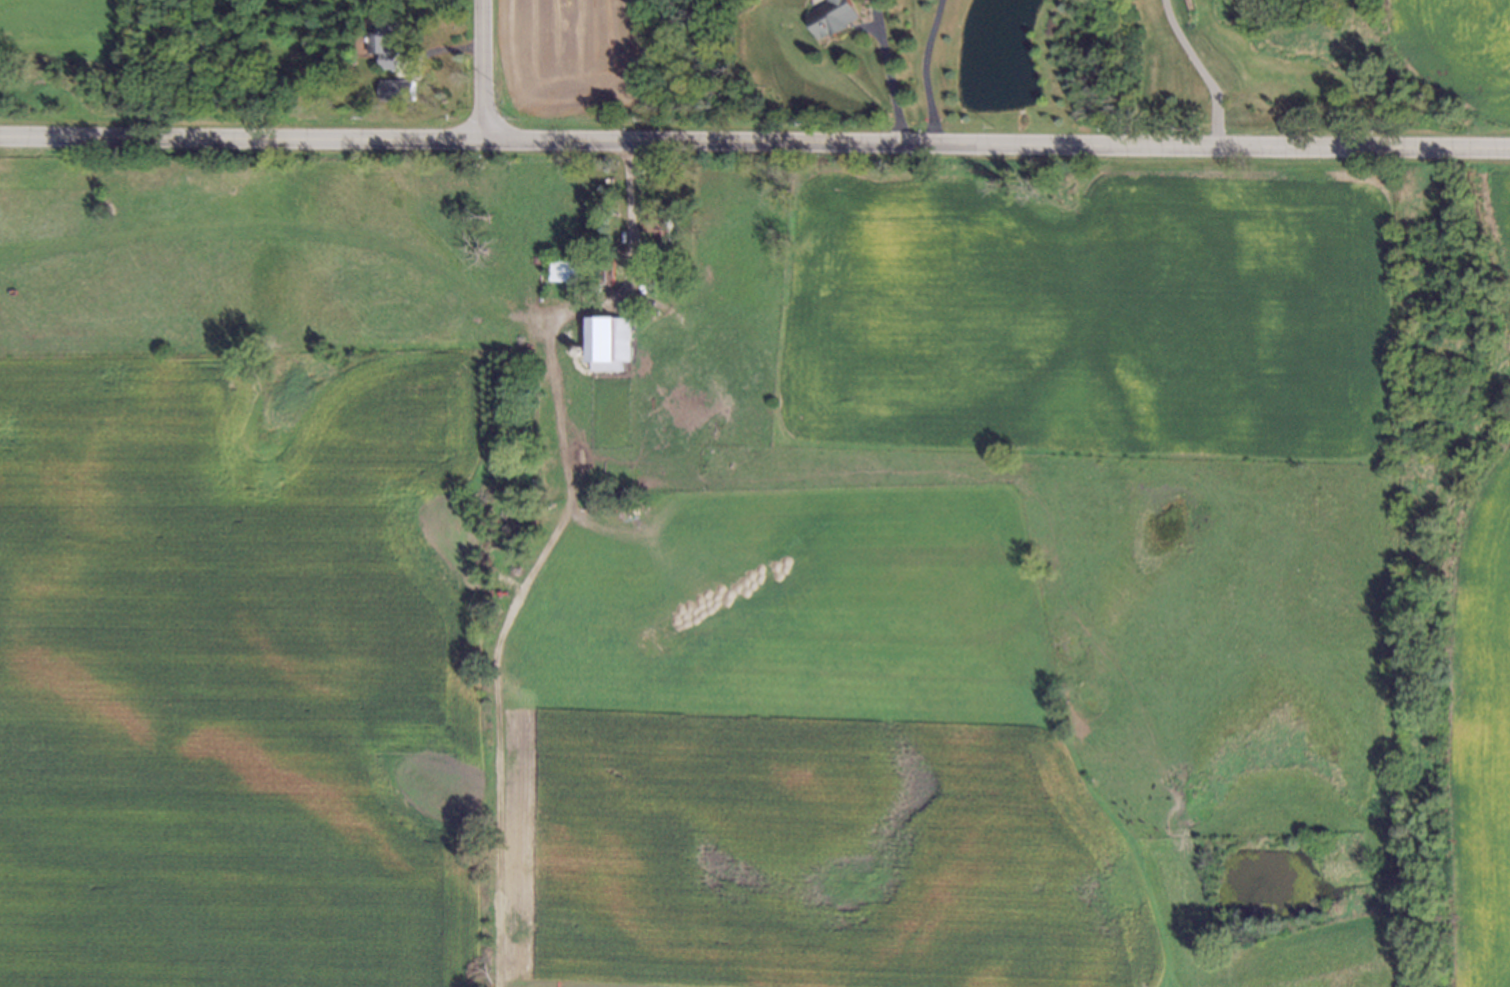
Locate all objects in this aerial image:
building: (830, 17)
building: (384, 37)
road: (481, 69)
road: (1201, 69)
road: (920, 70)
road: (884, 71)
building: (395, 88)
road: (241, 136)
road: (996, 143)
building: (655, 225)
road: (632, 241)
building: (602, 269)
building: (570, 273)
building: (632, 311)
building: (611, 344)
building: (578, 348)

